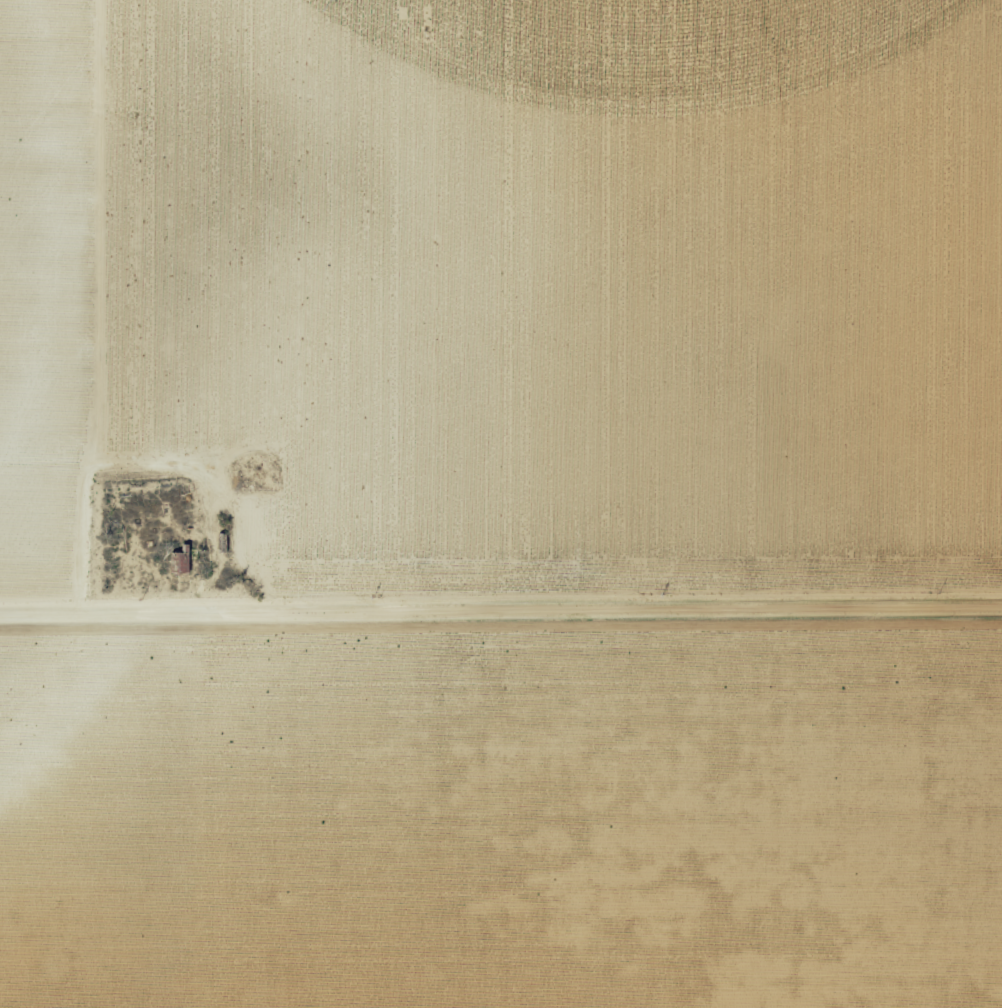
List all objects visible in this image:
road: (500, 614)

